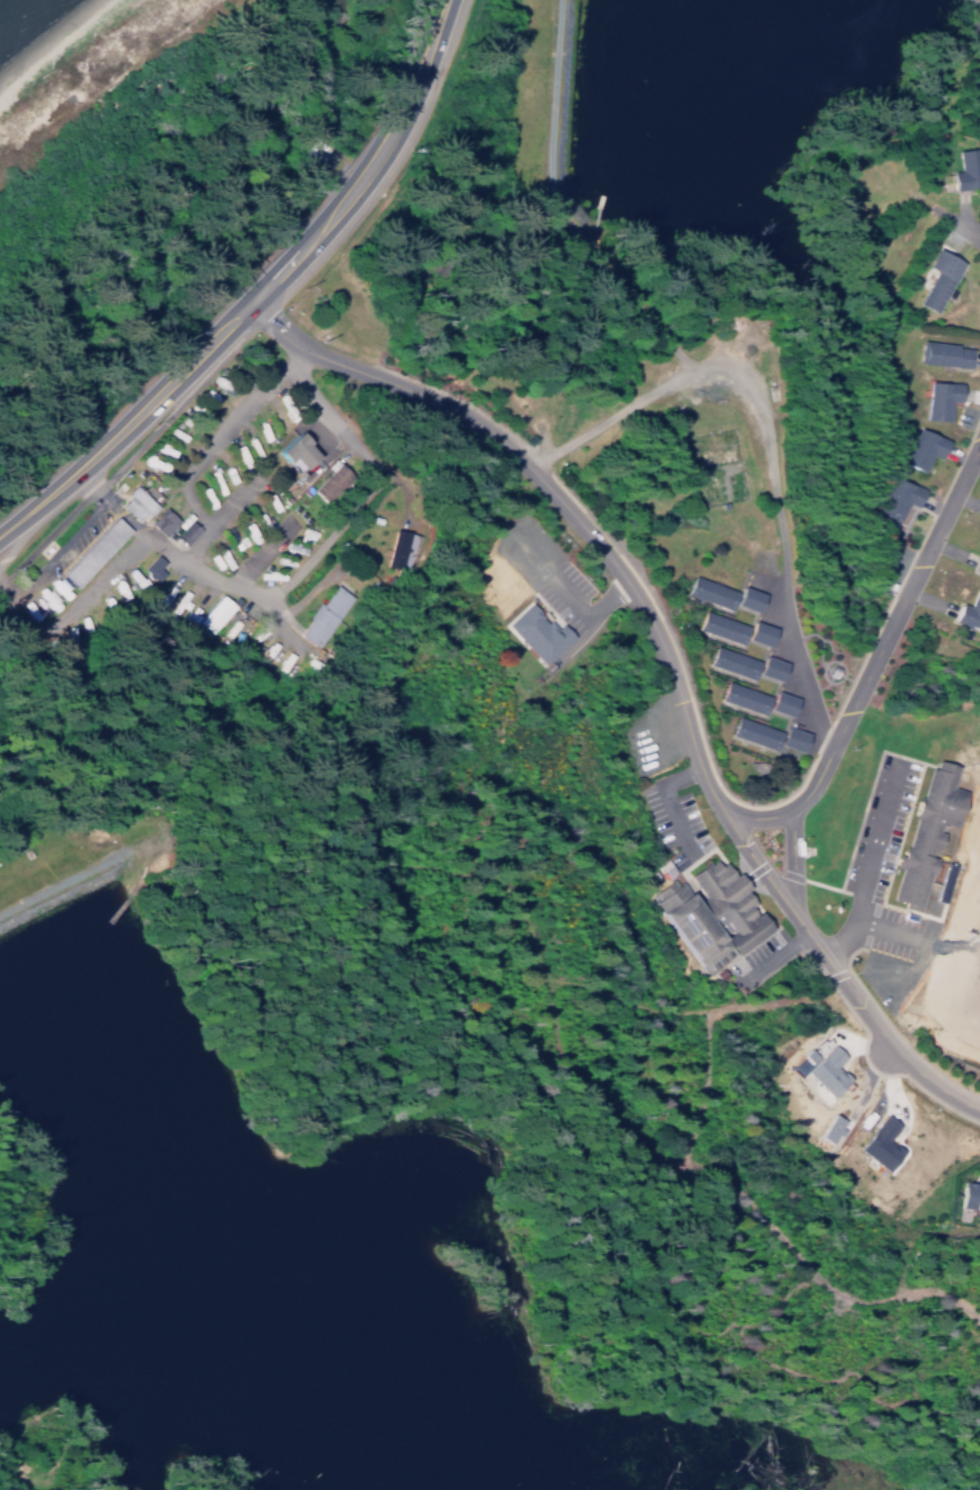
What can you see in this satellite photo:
dam: (560, 89)
building: (968, 167)
building: (939, 275)
road: (257, 291)
building: (943, 351)
building: (939, 396)
road: (345, 428)
building: (922, 446)
building: (290, 453)
building: (325, 488)
building: (898, 494)
building: (137, 503)
building: (160, 521)
building: (183, 533)
building: (92, 551)
building: (977, 562)
building: (150, 567)
building: (711, 589)
building: (744, 598)
building: (46, 599)
building: (188, 608)
building: (969, 608)
building: (214, 613)
building: (322, 615)
building: (722, 624)
building: (234, 625)
building: (534, 633)
building: (755, 633)
road: (870, 652)
road: (665, 654)
building: (733, 659)
building: (767, 668)
building: (744, 694)
building: (778, 703)
building: (755, 729)
building: (789, 739)
road: (669, 798)
building: (928, 826)
road: (792, 856)
road: (869, 861)
building: (712, 909)
road: (884, 925)
road: (775, 952)
building: (822, 1070)
building: (883, 1145)
building: (971, 1197)

